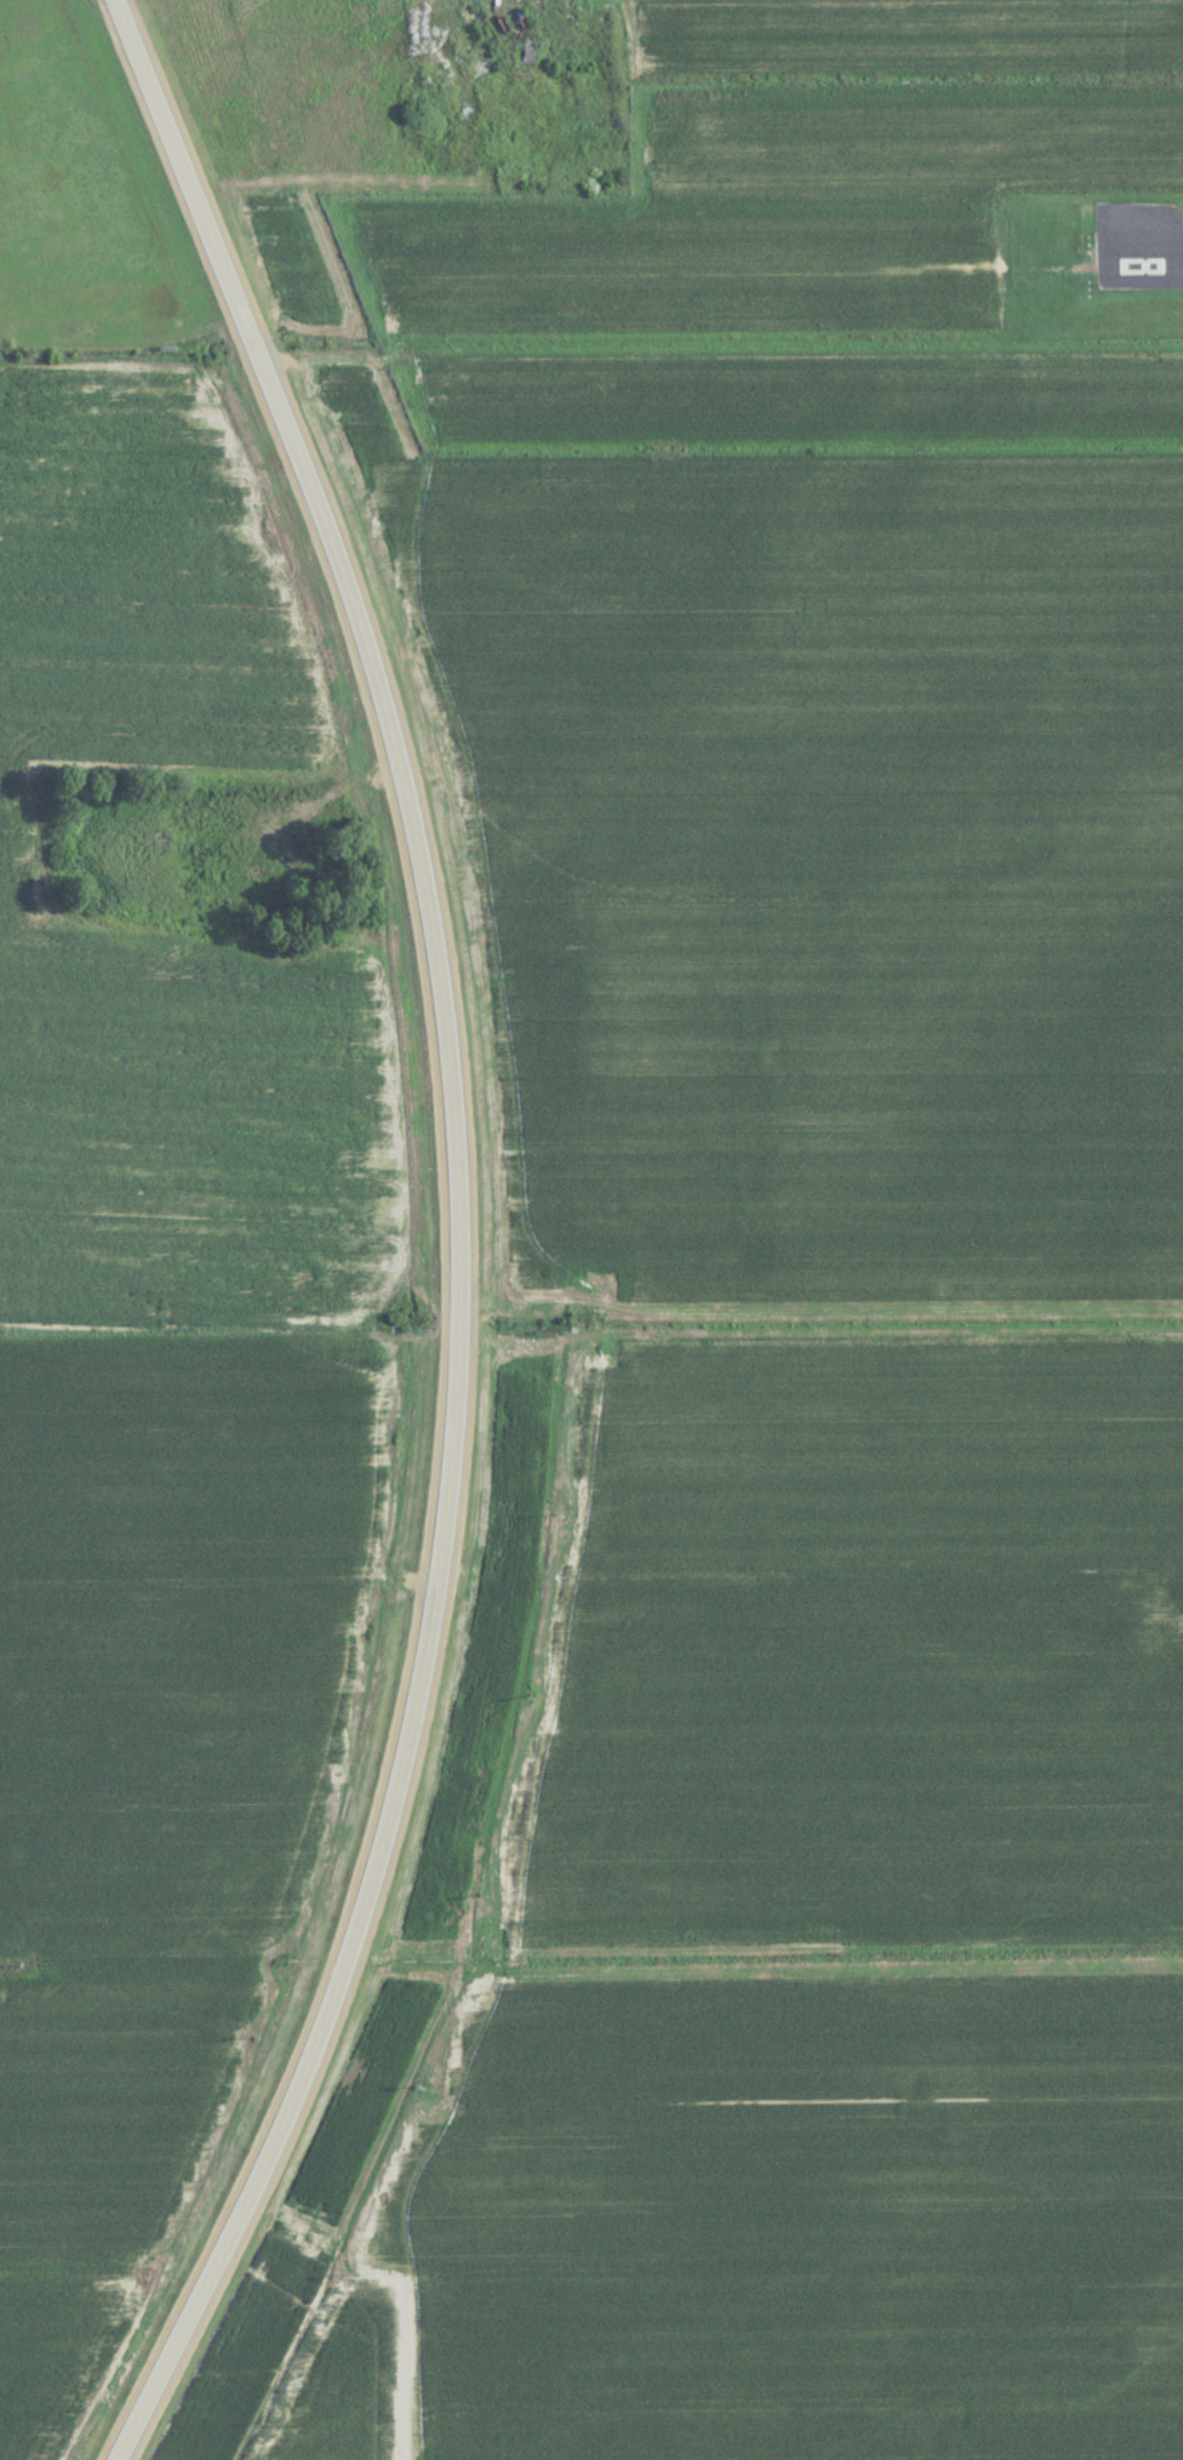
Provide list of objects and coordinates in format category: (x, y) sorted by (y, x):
airport runway: (1142, 263)
building: (1142, 267)
airport: (1090, 268)
road: (457, 1233)
road: (828, 1568)
road: (218, 1573)
building: (771, 1600)

